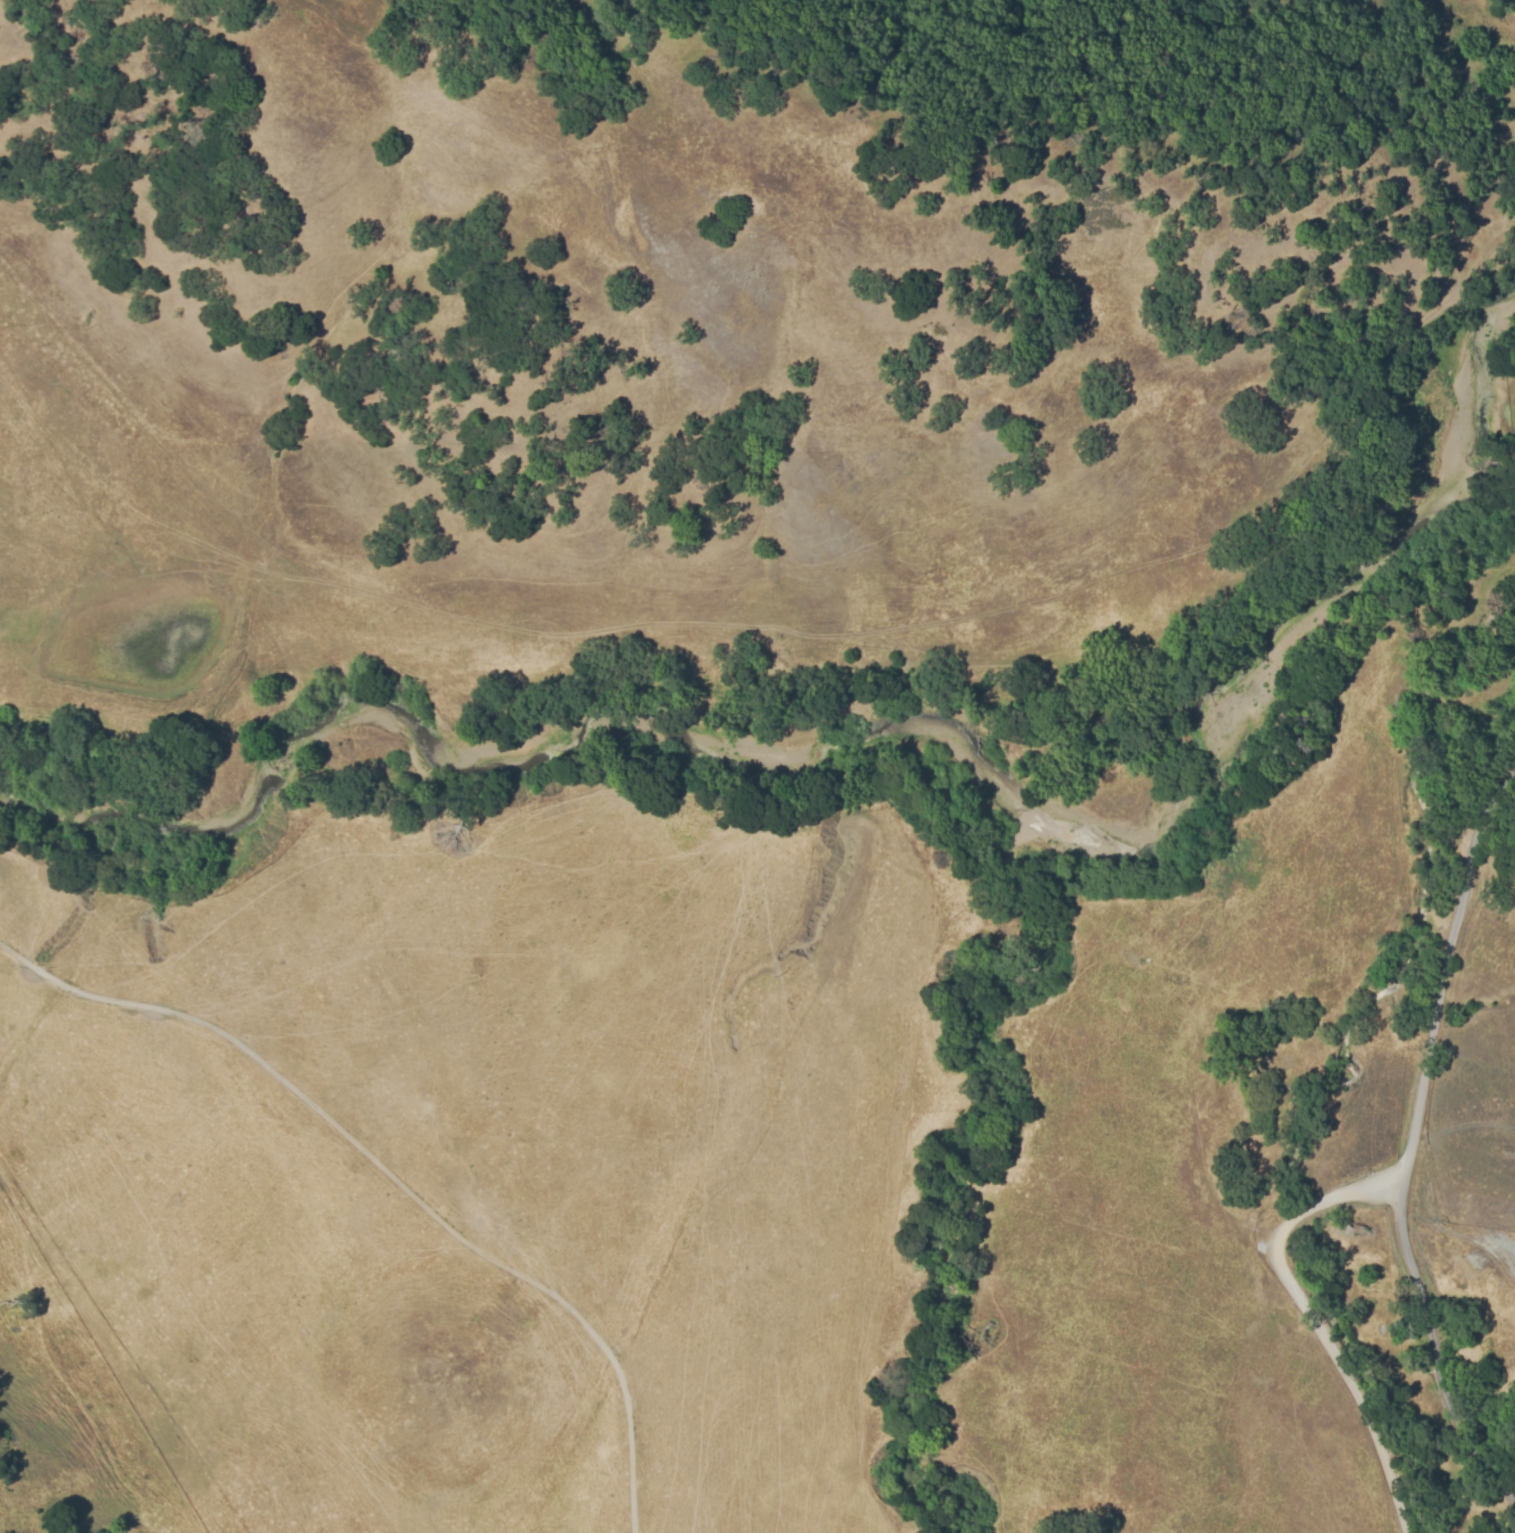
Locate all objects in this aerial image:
road: (1415, 1112)
road: (1461, 1129)
road: (1315, 1325)

